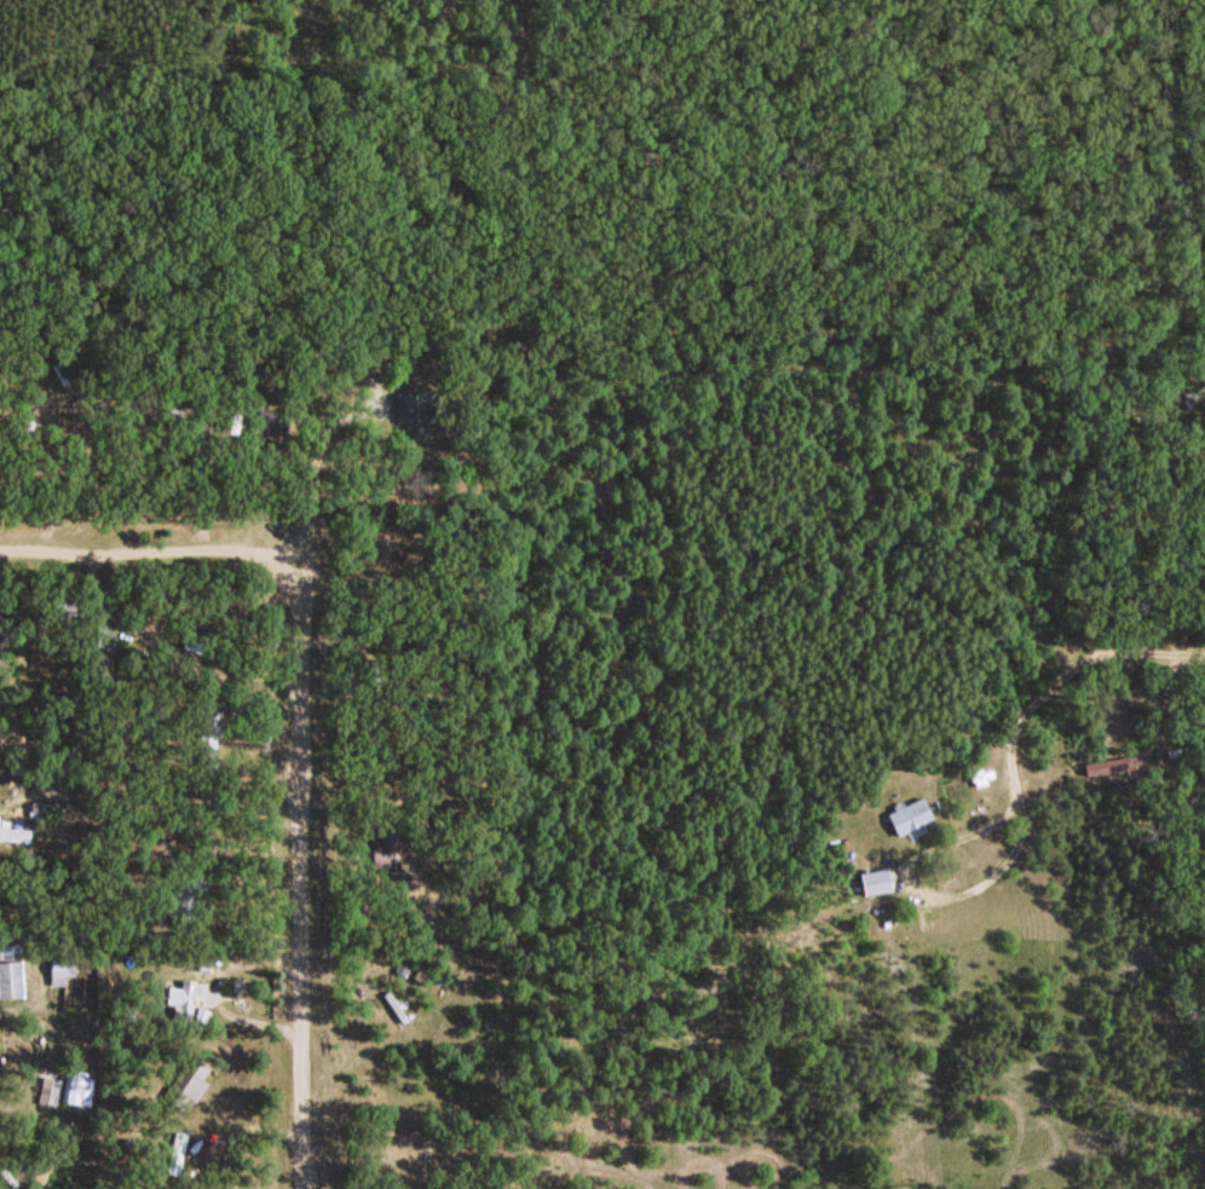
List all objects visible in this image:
building: (413, 412)
building: (270, 420)
road: (156, 553)
building: (62, 601)
building: (98, 648)
building: (207, 739)
building: (1111, 763)
building: (909, 814)
building: (15, 832)
building: (384, 850)
building: (874, 881)
road: (307, 887)
building: (188, 895)
building: (62, 966)
building: (11, 977)
building: (186, 1003)
building: (394, 1005)
building: (121, 1011)
building: (174, 1152)
building: (426, 1158)

